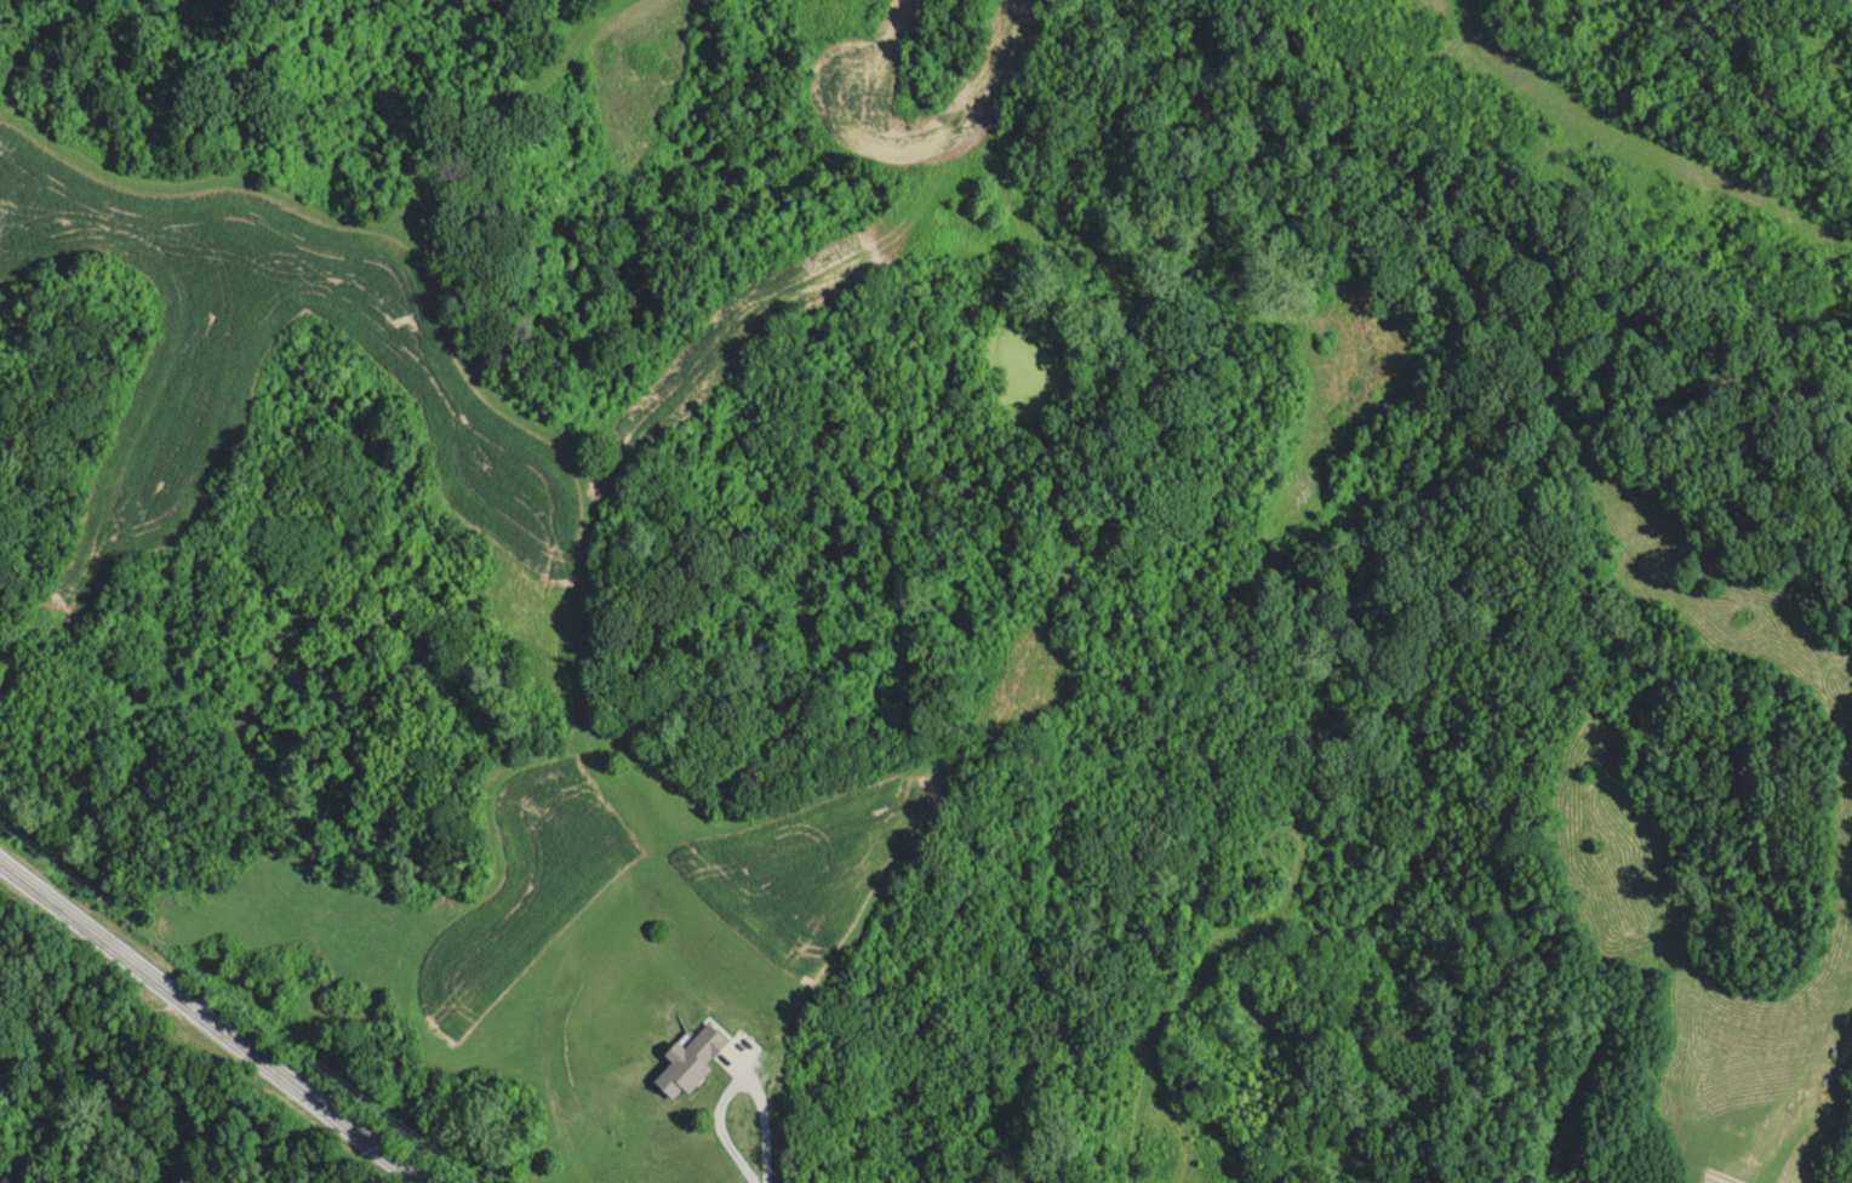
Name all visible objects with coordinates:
road: (204, 1027)
building: (692, 1061)
road: (734, 1082)

